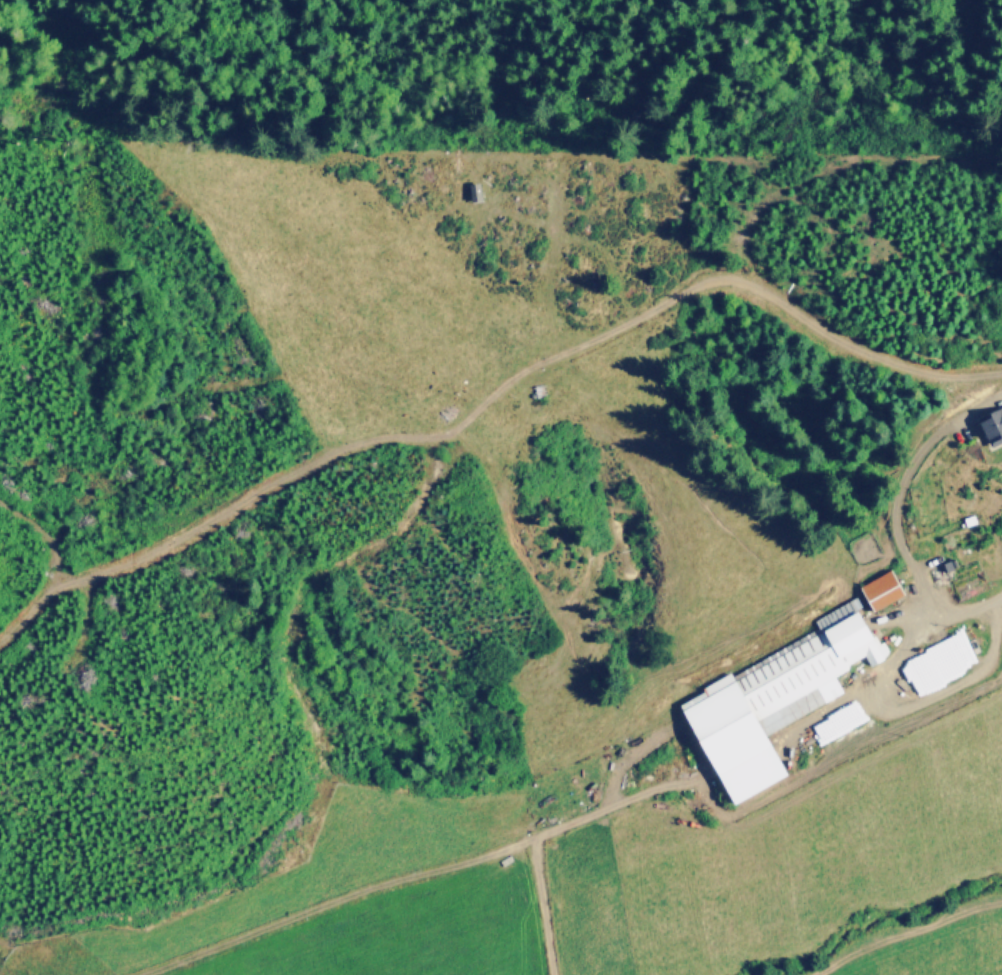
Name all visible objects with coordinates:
building: (994, 423)
building: (882, 589)
road: (935, 617)
building: (776, 697)

